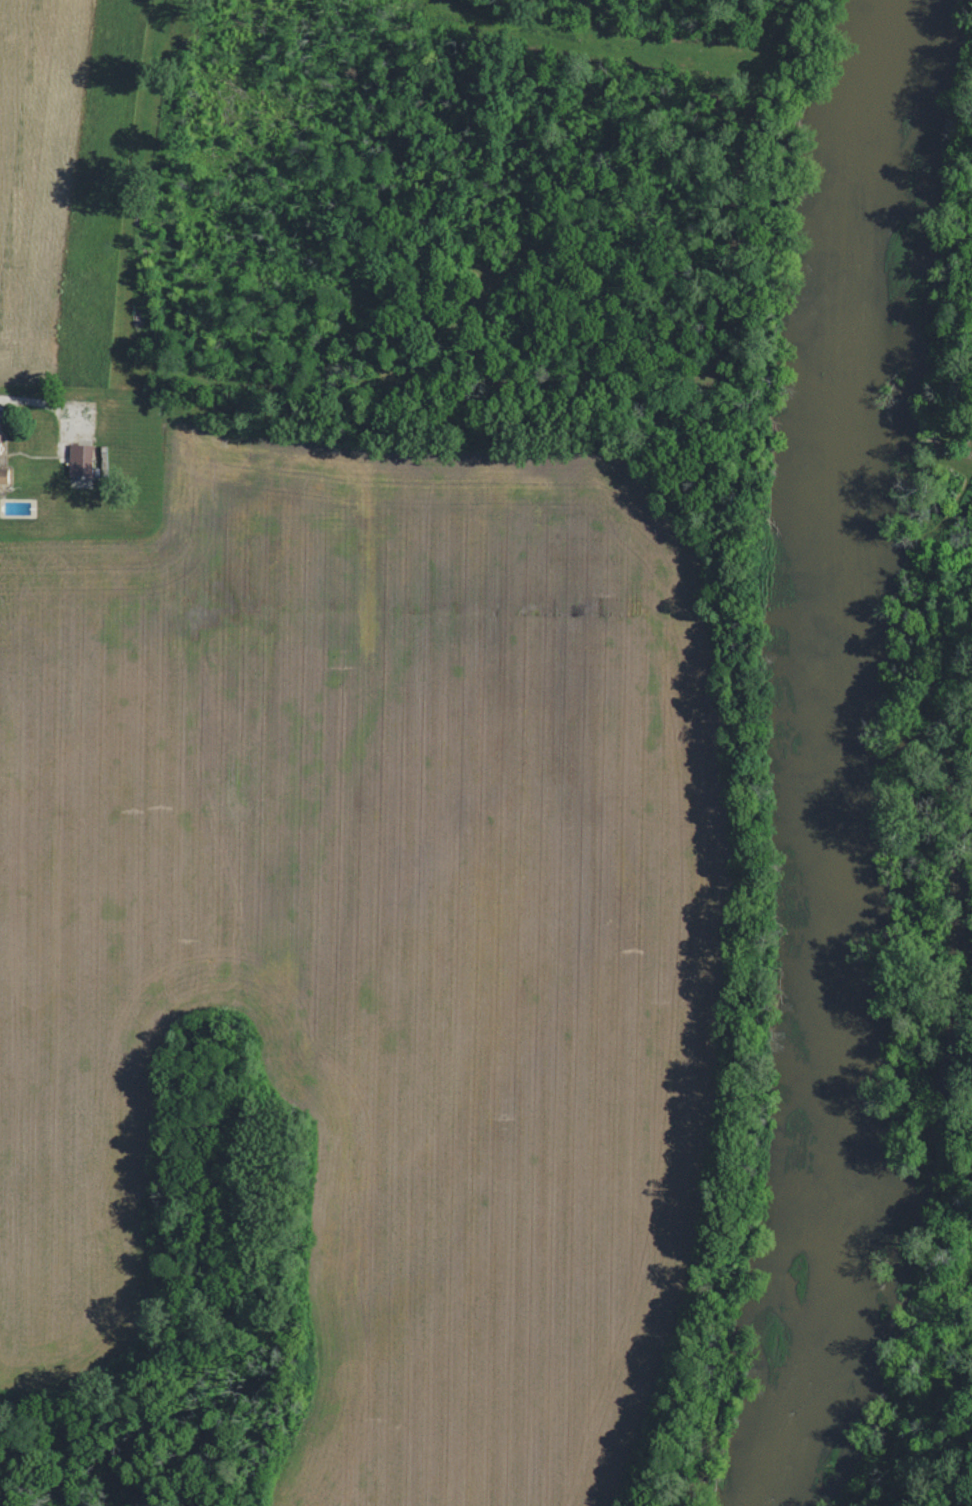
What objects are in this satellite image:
building: (78, 460)
building: (5, 475)
river: (834, 757)

